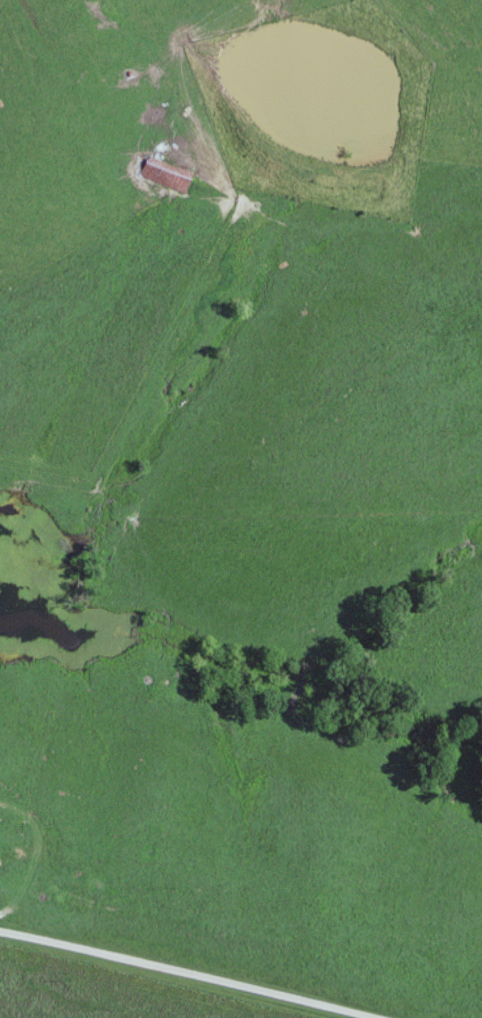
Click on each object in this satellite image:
road: (452, 20)
road: (183, 49)
building: (171, 167)
road: (201, 971)

